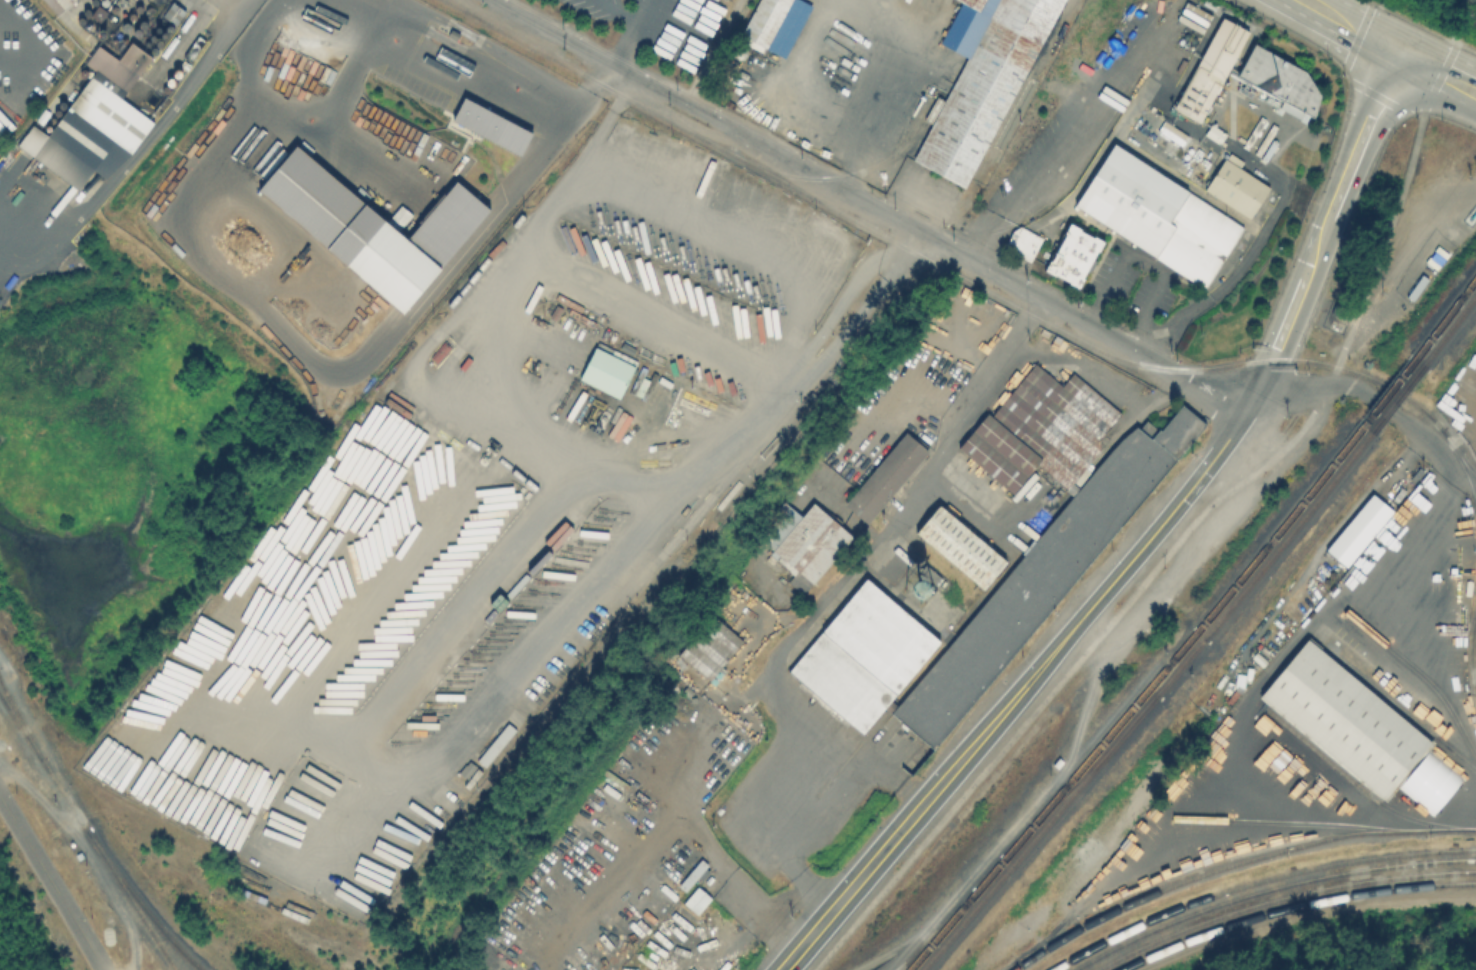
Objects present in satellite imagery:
building: (976, 2)
building: (56, 4)
road: (624, 10)
building: (98, 12)
building: (175, 14)
road: (348, 15)
road: (1411, 21)
building: (774, 24)
road: (1351, 25)
road: (1290, 31)
road: (635, 34)
road: (1466, 47)
traffic signals: (1399, 51)
building: (1210, 67)
road: (1437, 72)
building: (1279, 78)
road: (1439, 78)
road: (1348, 80)
road: (892, 86)
building: (983, 86)
road: (502, 103)
building: (103, 112)
road: (267, 124)
building: (496, 125)
road: (599, 129)
building: (1170, 130)
building: (1214, 132)
road: (1364, 134)
road: (147, 144)
road: (1066, 146)
railway: (900, 148)
building: (1235, 186)
building: (328, 203)
road: (865, 207)
building: (1156, 213)
building: (454, 221)
road: (545, 223)
road: (193, 230)
building: (1021, 241)
road: (1317, 248)
road: (905, 251)
building: (1072, 254)
road: (1246, 255)
road: (1149, 263)
building: (401, 264)
railway: (967, 280)
road: (1312, 301)
road: (842, 306)
building: (1340, 309)
railway: (1445, 315)
road: (661, 316)
road: (855, 317)
road: (1288, 318)
railway: (1449, 326)
building: (609, 372)
road: (1266, 373)
road: (1359, 390)
railway: (1388, 390)
railway: (1396, 396)
railway: (1458, 450)
road: (1210, 465)
road: (1457, 471)
building: (890, 478)
building: (1358, 528)
road: (1413, 532)
railway: (1267, 541)
building: (812, 543)
railway: (1275, 548)
building: (987, 558)
road: (1162, 561)
road: (590, 590)
road: (831, 598)
railway: (1202, 619)
road: (431, 620)
railway: (1211, 629)
railway: (1472, 645)
building: (710, 646)
road: (1034, 674)
railway: (1400, 706)
building: (1349, 719)
railway: (19, 722)
railway: (1079, 774)
building: (1429, 781)
railway: (1360, 786)
railway: (1039, 814)
road: (695, 817)
railway: (1049, 818)
railway: (1323, 821)
railway: (87, 834)
railway: (1208, 871)
building: (694, 874)
railway: (1254, 881)
road: (51, 885)
railway: (1266, 889)
road: (849, 892)
railway: (1278, 897)
building: (696, 899)
railway: (1292, 906)
railway: (146, 911)
railway: (934, 931)

